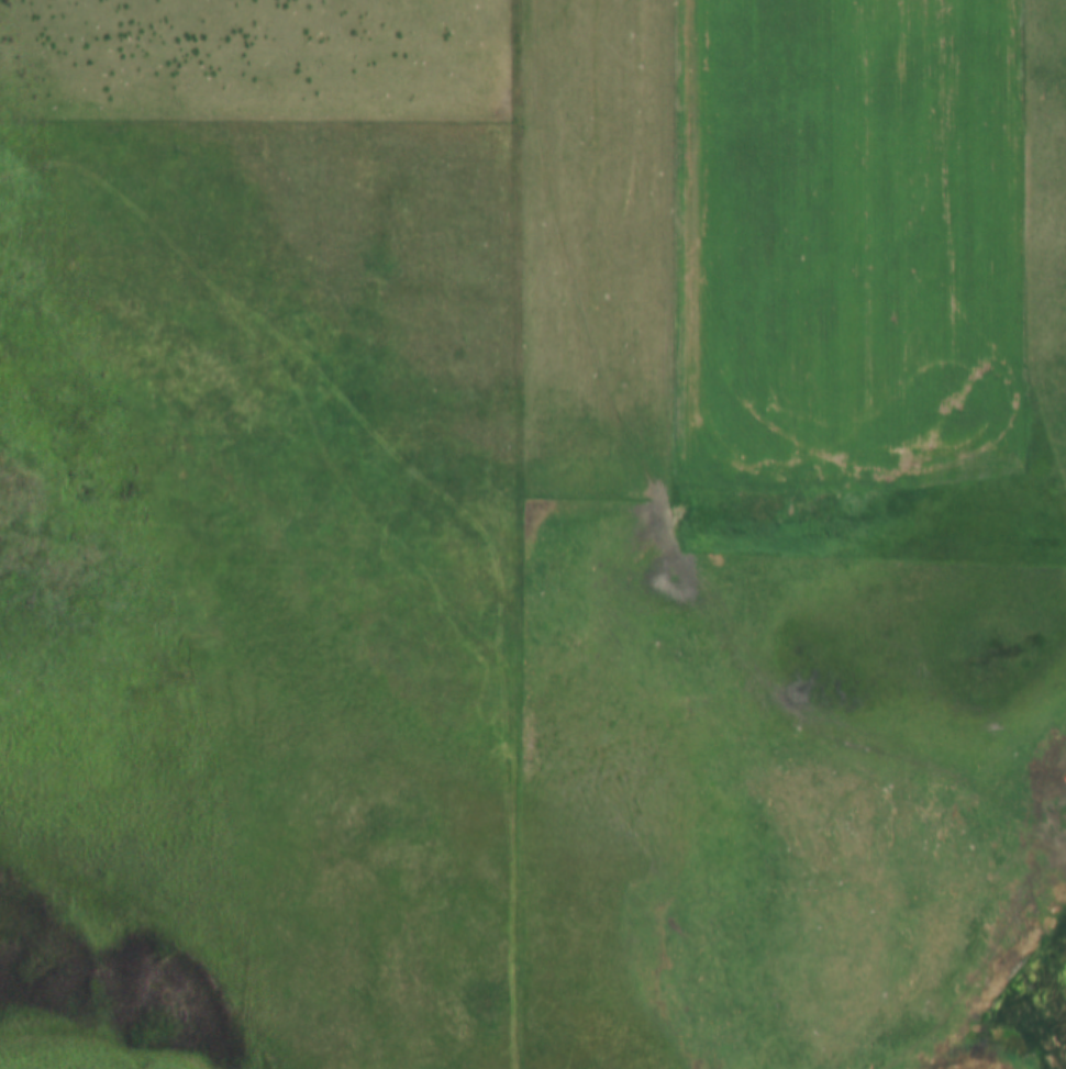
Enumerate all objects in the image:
road: (677, 250)

